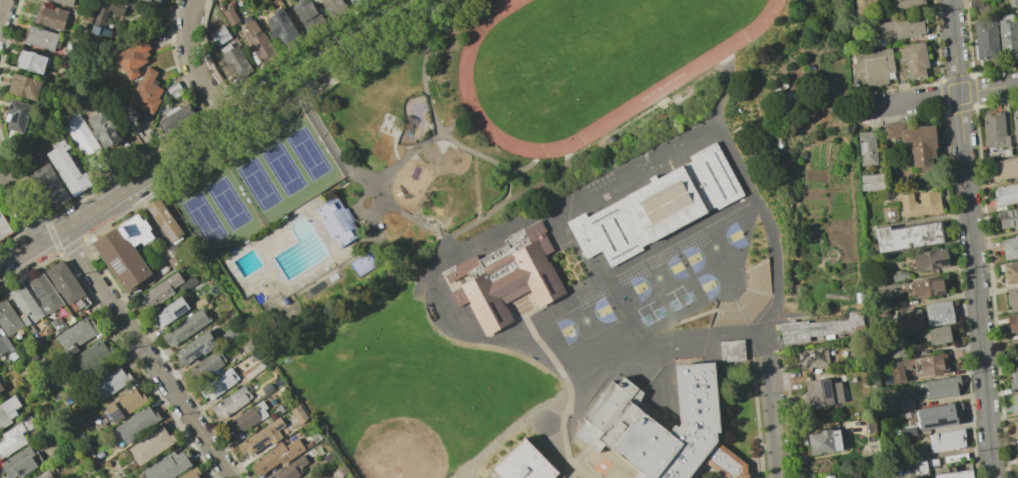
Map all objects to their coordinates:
building: (154, 1)
building: (63, 2)
building: (355, 2)
building: (905, 3)
building: (1012, 3)
road: (1, 4)
building: (332, 7)
building: (49, 16)
building: (104, 16)
building: (229, 16)
building: (306, 16)
building: (281, 28)
building: (905, 28)
building: (219, 36)
building: (1007, 36)
building: (40, 38)
building: (985, 39)
building: (259, 43)
park: (589, 57)
building: (131, 58)
building: (913, 59)
building: (30, 61)
building: (235, 61)
road: (193, 66)
building: (873, 66)
track: (672, 80)
building: (23, 87)
road: (725, 88)
building: (145, 92)
road: (944, 95)
park: (514, 108)
road: (861, 110)
building: (16, 117)
building: (176, 118)
road: (435, 124)
building: (1014, 126)
building: (103, 129)
building: (993, 131)
road: (213, 133)
building: (81, 137)
building: (914, 142)
building: (865, 148)
road: (801, 149)
road: (393, 150)
park: (307, 153)
road: (337, 154)
road: (405, 154)
building: (67, 169)
park: (282, 169)
building: (1003, 169)
building: (870, 182)
park: (257, 184)
building: (48, 187)
road: (575, 193)
building: (1005, 195)
road: (509, 200)
park: (227, 203)
building: (918, 204)
road: (20, 206)
building: (657, 207)
road: (360, 212)
rooftop solar panel: (153, 213)
building: (888, 213)
road: (406, 217)
building: (1007, 218)
park: (202, 219)
building: (165, 221)
building: (336, 222)
building: (4, 228)
rooftop solar panel: (166, 229)
road: (772, 231)
building: (905, 236)
rooftop solar panel: (172, 237)
road: (971, 238)
road: (447, 246)
park: (714, 247)
building: (1009, 247)
building: (125, 252)
building: (929, 260)
rooftop solar panel: (943, 261)
rooftop solar panel: (118, 271)
building: (1010, 273)
park: (658, 277)
building: (504, 278)
building: (758, 279)
park: (714, 280)
building: (63, 283)
building: (188, 284)
building: (926, 287)
rooftop solar panel: (39, 289)
building: (159, 291)
building: (45, 294)
park: (687, 297)
building: (1012, 299)
park: (672, 305)
building: (24, 306)
rooftop solar panel: (179, 309)
building: (168, 313)
park: (659, 313)
building: (937, 313)
building: (910, 319)
park: (645, 320)
park: (585, 321)
building: (9, 322)
building: (1012, 322)
building: (185, 327)
road: (465, 328)
building: (814, 330)
building: (935, 335)
building: (75, 336)
road: (659, 339)
building: (3, 344)
building: (195, 348)
building: (895, 348)
building: (731, 350)
building: (1014, 352)
road: (146, 354)
building: (90, 356)
building: (812, 358)
building: (207, 366)
building: (917, 367)
building: (1013, 377)
building: (109, 383)
road: (566, 384)
building: (217, 385)
building: (939, 387)
building: (0, 388)
building: (267, 389)
park: (408, 389)
building: (822, 393)
building: (230, 403)
building: (905, 403)
building: (125, 404)
building: (1014, 404)
building: (7, 410)
building: (620, 416)
building: (937, 416)
rooftop solar panel: (117, 417)
road: (772, 417)
building: (247, 419)
rooftop solar panel: (942, 421)
building: (136, 424)
building: (1015, 428)
road: (508, 431)
building: (907, 432)
building: (14, 438)
building: (255, 440)
building: (945, 440)
building: (822, 441)
building: (150, 445)
building: (1016, 453)
building: (276, 456)
building: (954, 457)
building: (19, 463)
building: (522, 464)
building: (167, 466)
building: (291, 469)
building: (912, 469)
building: (190, 474)
building: (955, 474)
building: (43, 475)
building: (852, 475)
building: (311, 476)
building: (828, 477)

